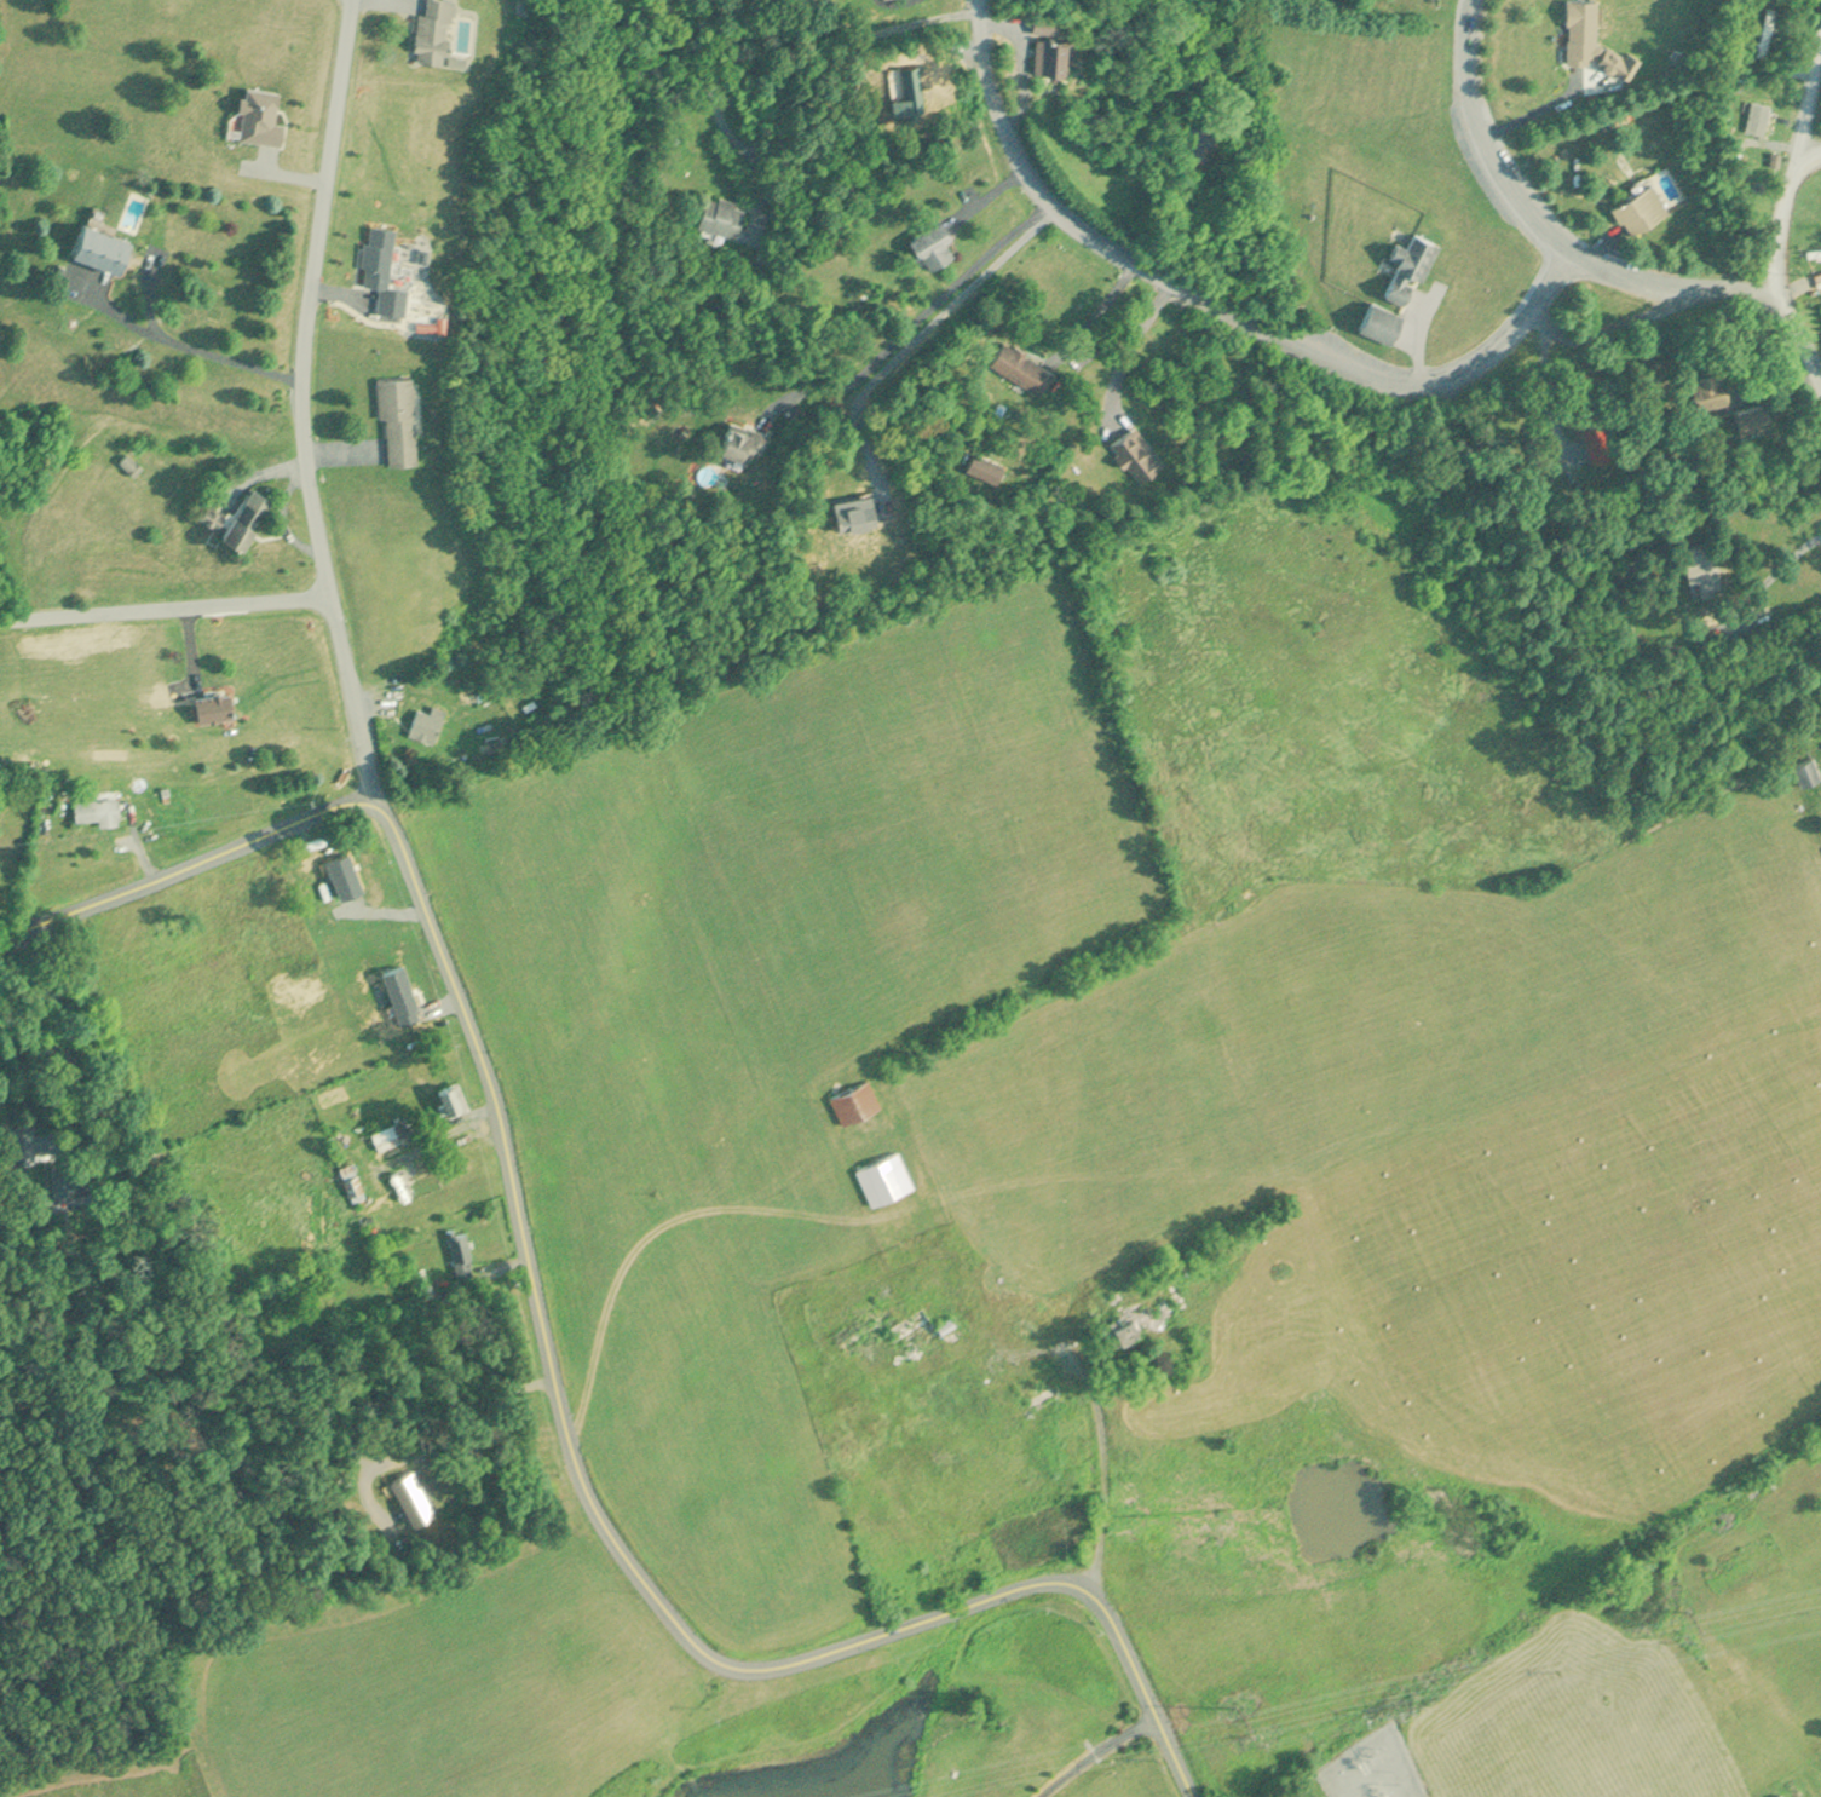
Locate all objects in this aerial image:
road: (795, 47)
road: (1549, 108)
road: (1810, 115)
road: (1810, 162)
road: (1781, 223)
road: (1545, 230)
road: (1221, 303)
road: (929, 306)
road: (1095, 306)
road: (1802, 328)
road: (921, 332)
road: (1136, 334)
road: (180, 344)
road: (306, 398)
road: (1776, 568)
road: (163, 606)
road: (68, 1031)
road: (542, 1348)
road: (1103, 1467)
power tower: (1700, 1611)
power tower: (1246, 1710)
road: (1095, 1753)
power substation: (1384, 1770)

